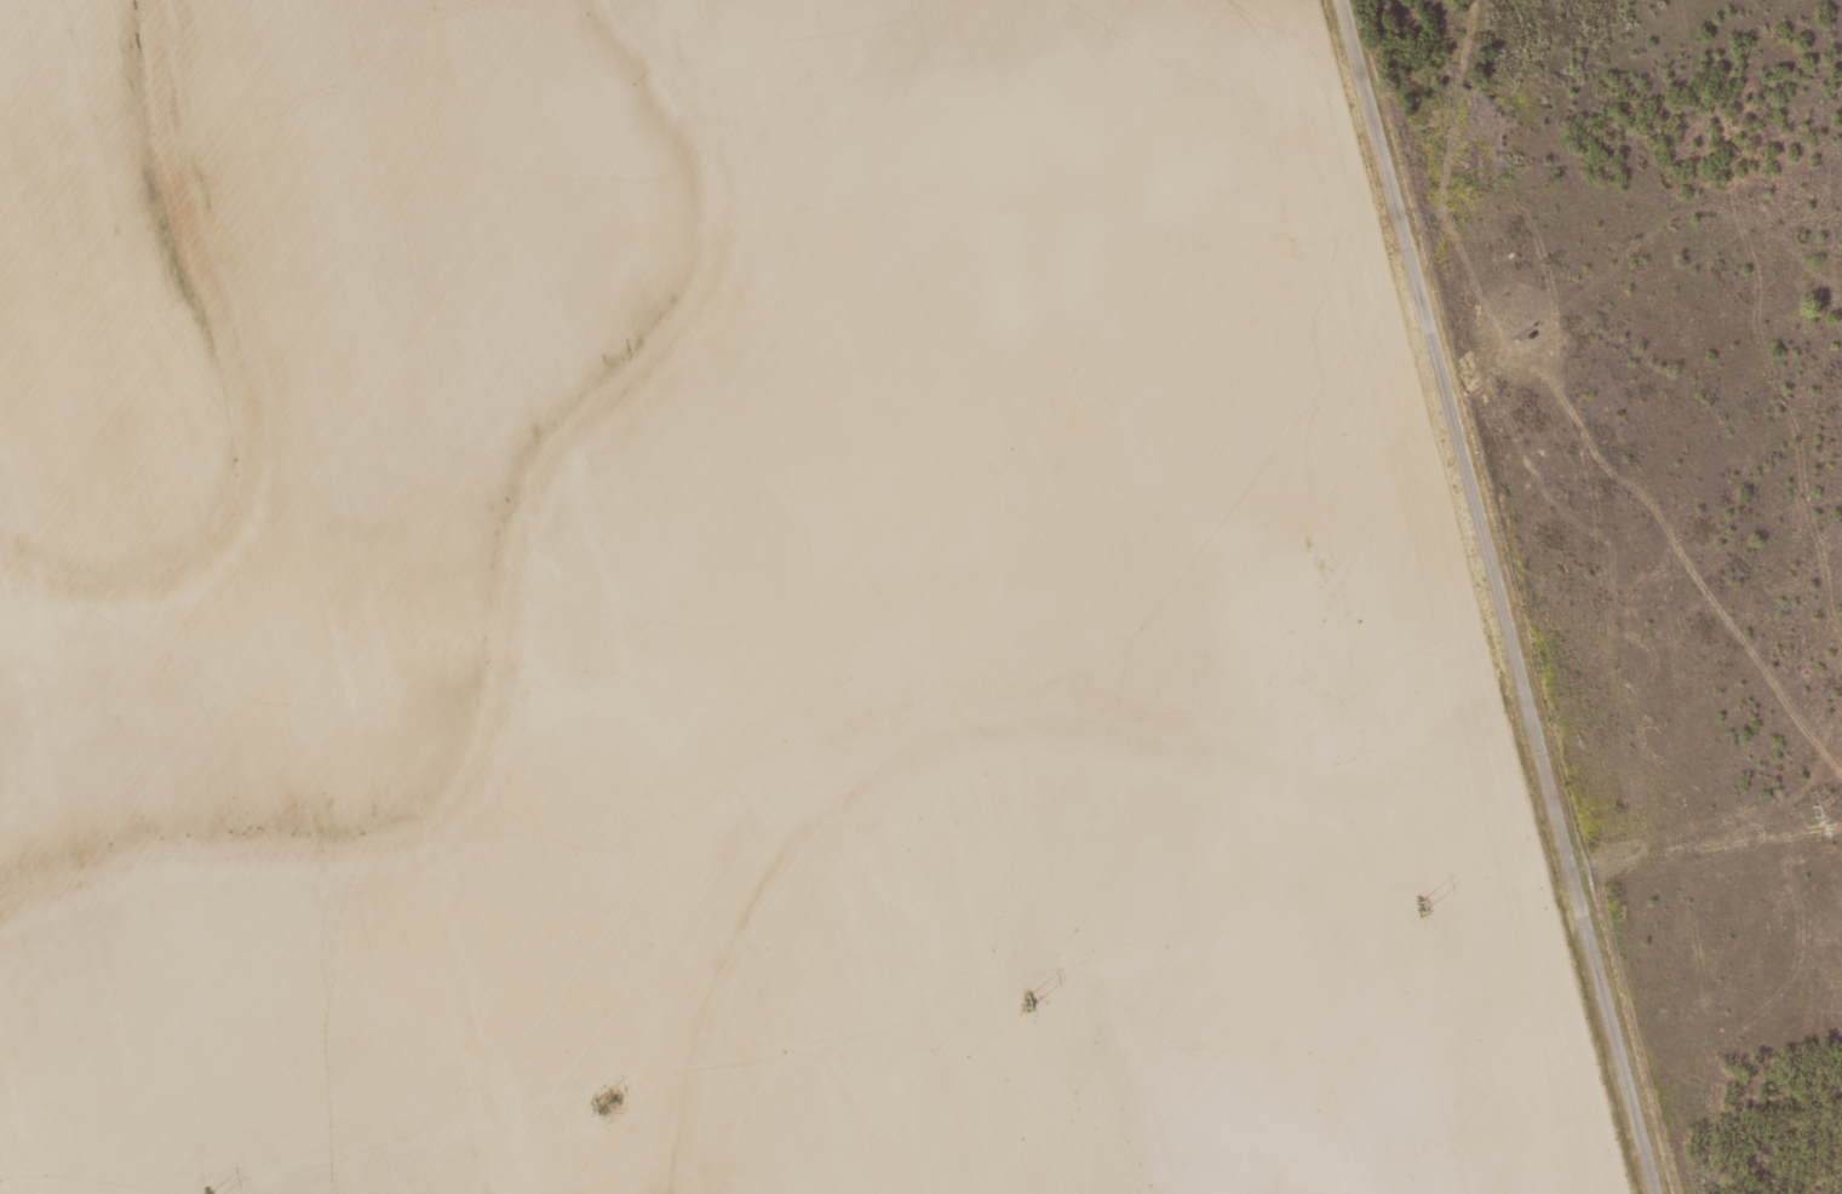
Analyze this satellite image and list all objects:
road: (1499, 597)
power tower: (1811, 810)
power tower: (1425, 905)
power tower: (1032, 998)
power tower: (612, 1103)

